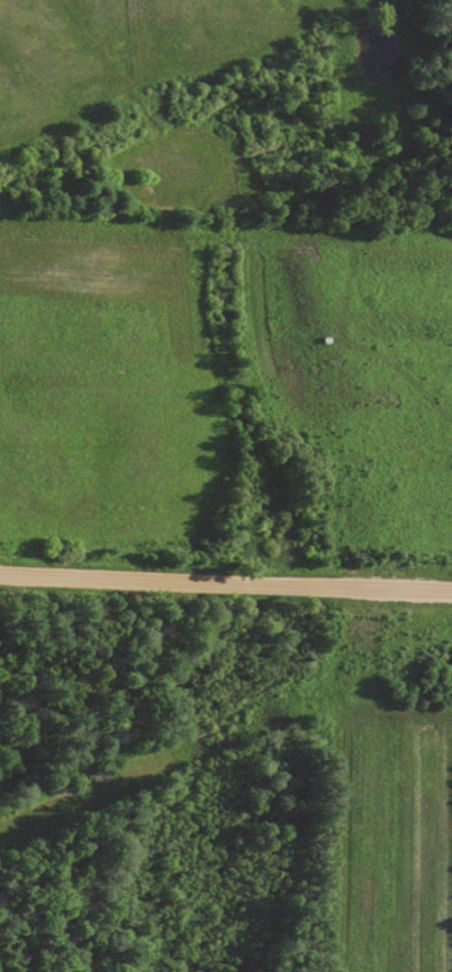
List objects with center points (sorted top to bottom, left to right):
road: (226, 581)

